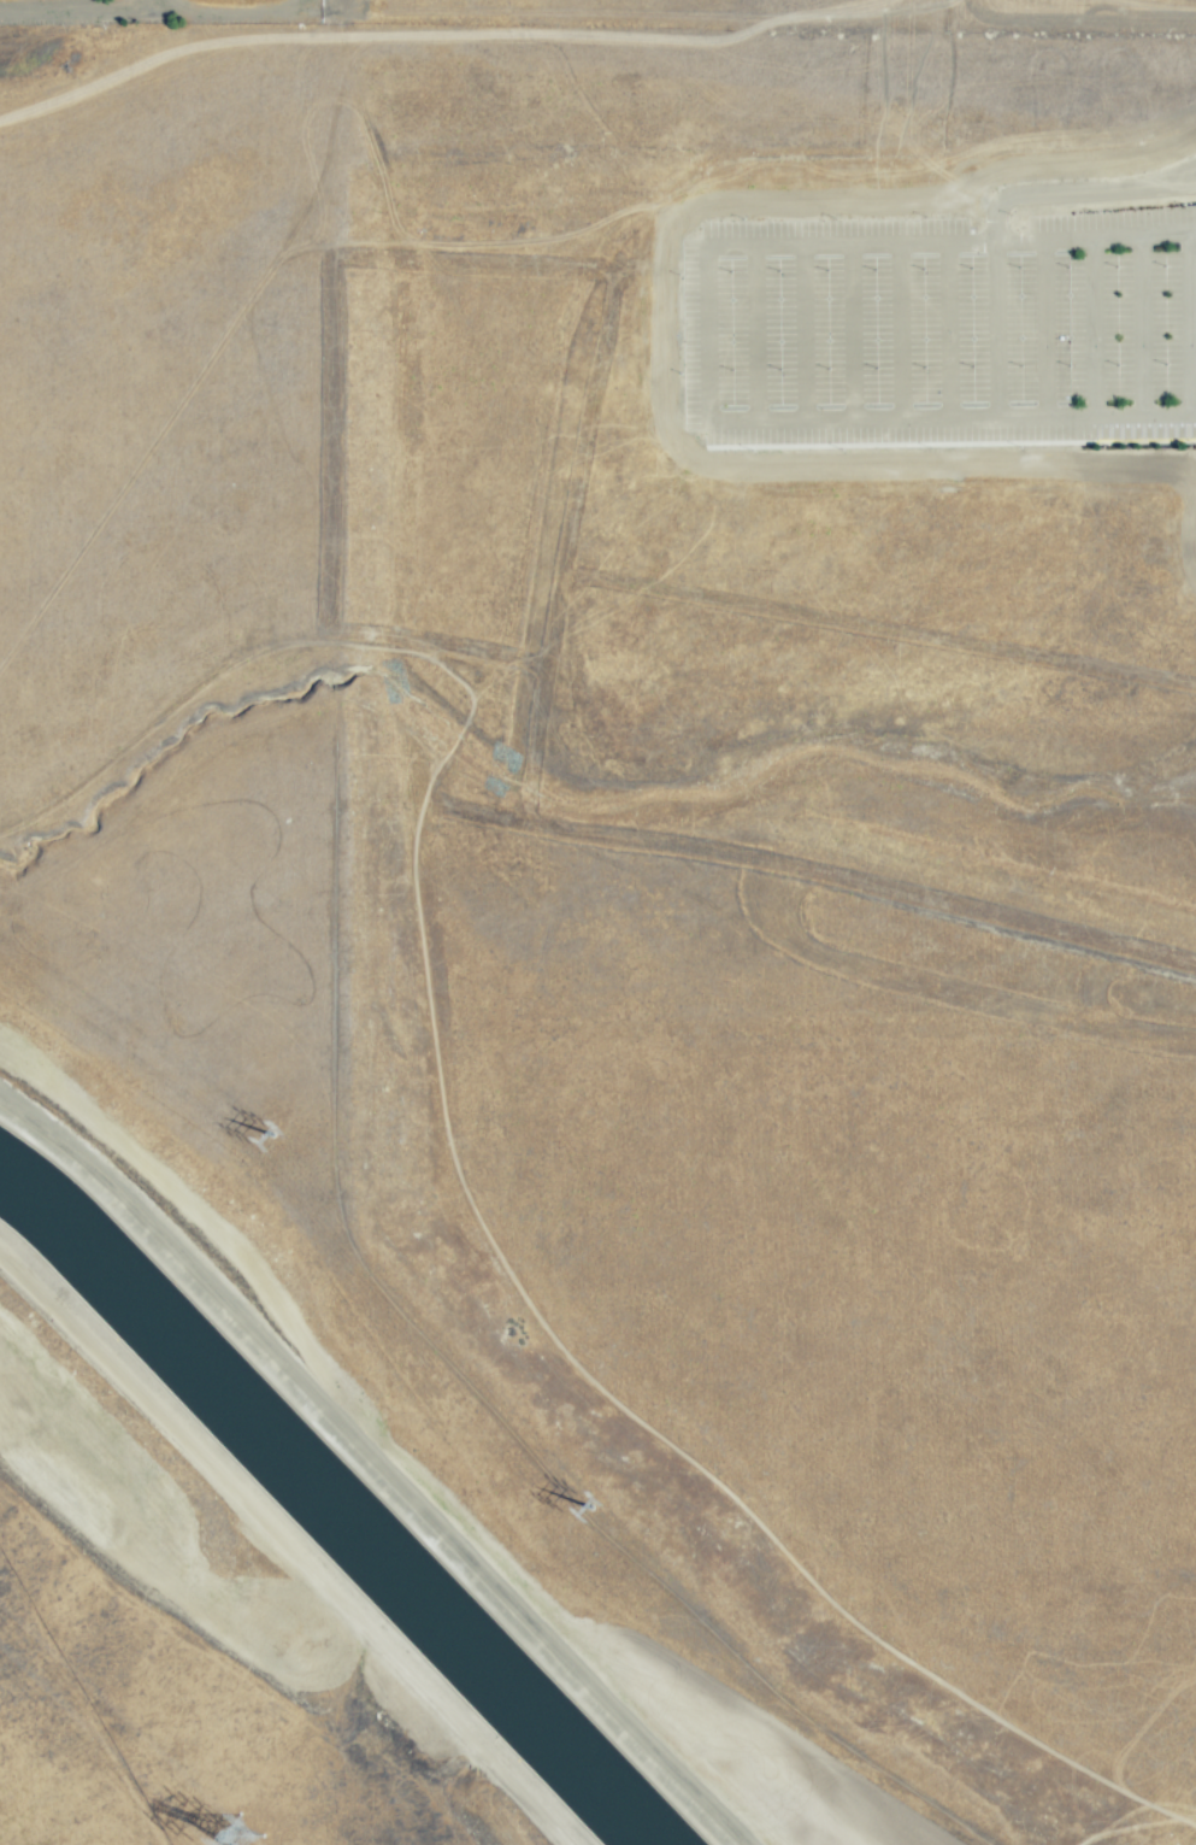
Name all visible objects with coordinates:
road: (145, 12)
road: (1072, 192)
road: (1142, 233)
road: (809, 247)
road: (1184, 321)
road: (1137, 323)
road: (1089, 325)
road: (1044, 329)
road: (991, 330)
road: (753, 331)
road: (849, 331)
road: (895, 331)
road: (945, 331)
road: (801, 333)
road: (1143, 412)
road: (899, 415)
road: (328, 570)
road: (878, 629)
road: (531, 742)
road: (817, 880)
power tower: (278, 1107)
road: (112, 1187)
power tower: (609, 1500)
road: (477, 1571)
power tower: (259, 1832)

